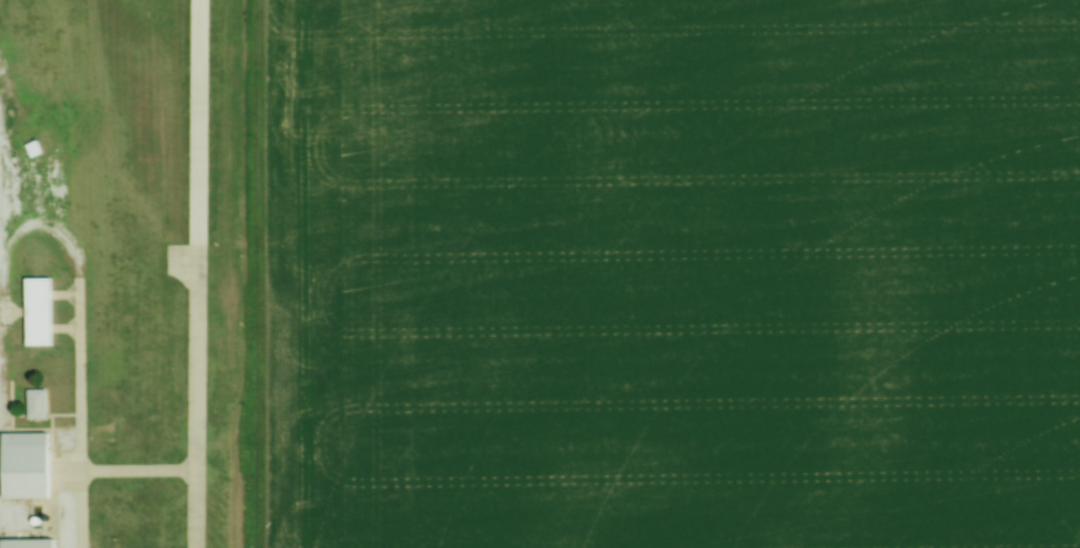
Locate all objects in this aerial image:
building: (29, 85)
building: (32, 149)
airport runway: (201, 274)
airport taxiway: (66, 296)
airport hangar: (42, 307)
building: (42, 307)
airport taxiway: (77, 320)
airport taxiway: (66, 329)
building: (35, 403)
airport hangar: (30, 462)
building: (30, 462)
airport taxiway: (138, 465)
airport hangar: (32, 541)
building: (32, 541)

